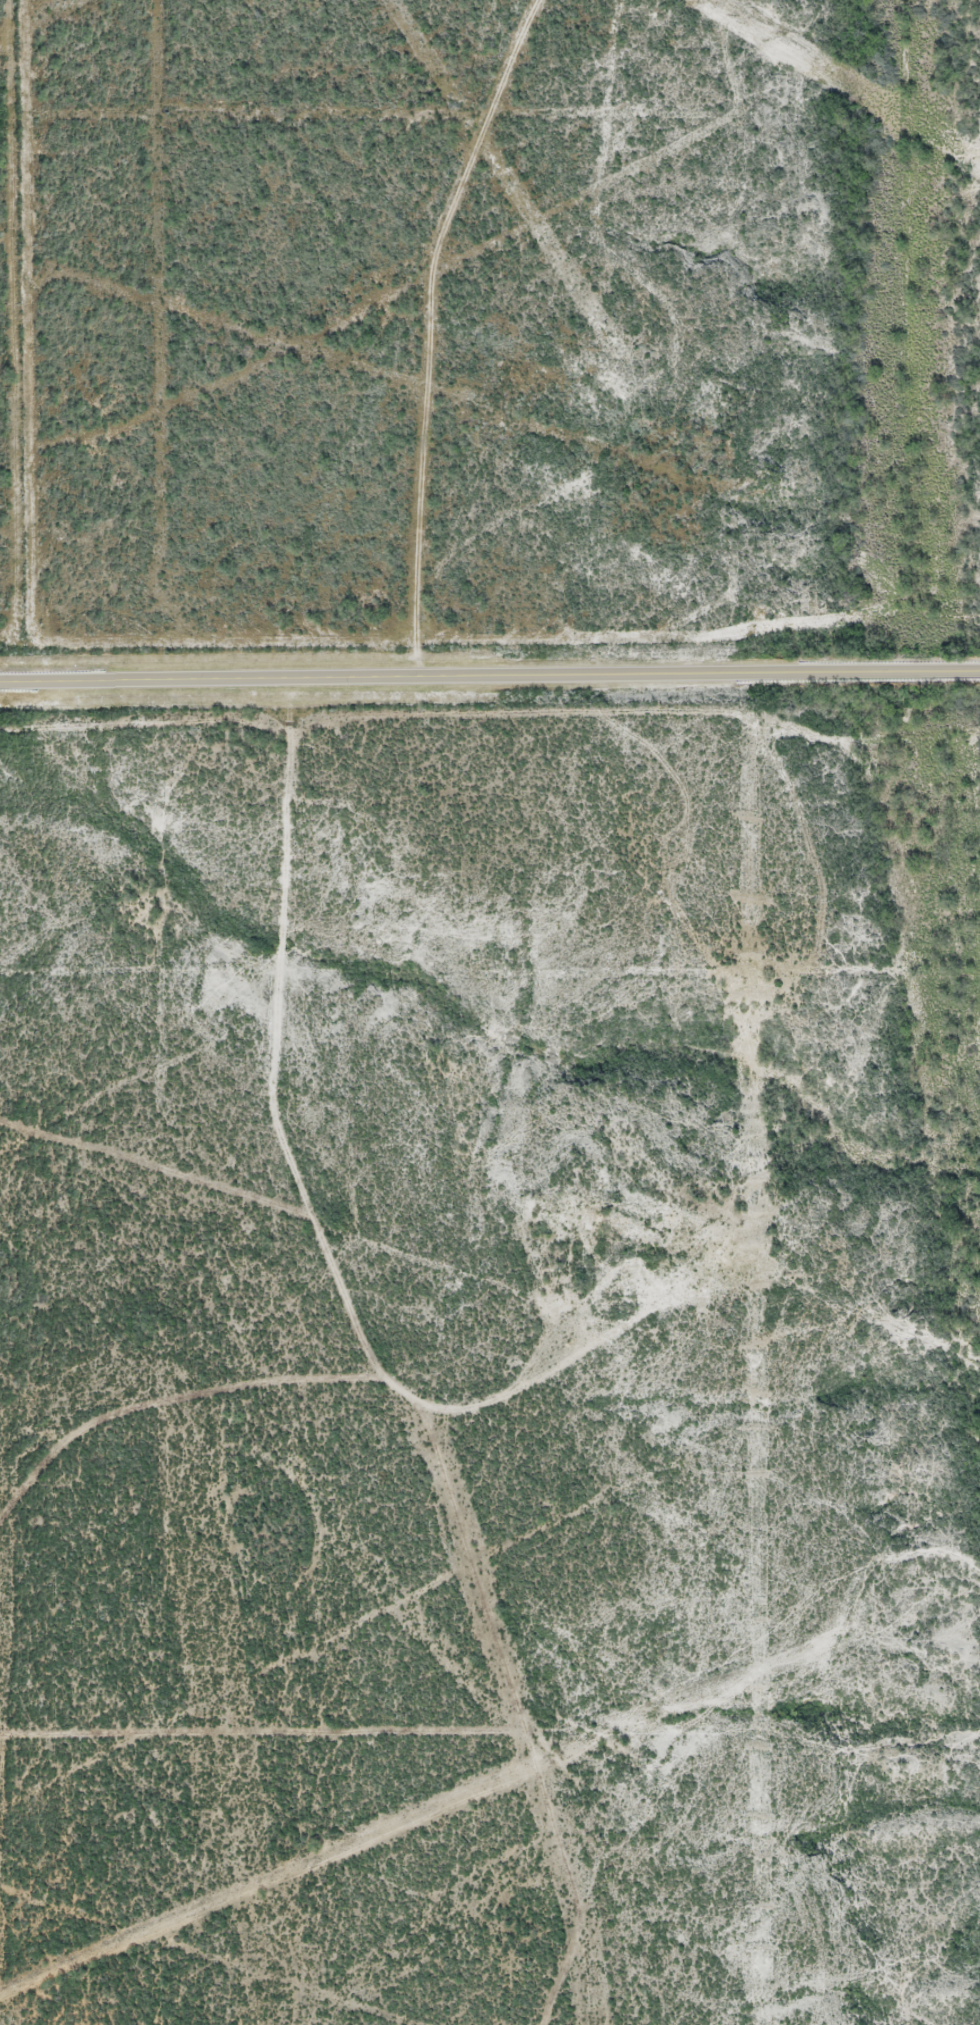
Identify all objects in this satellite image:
road: (692, 386)
road: (489, 671)
road: (294, 1171)

